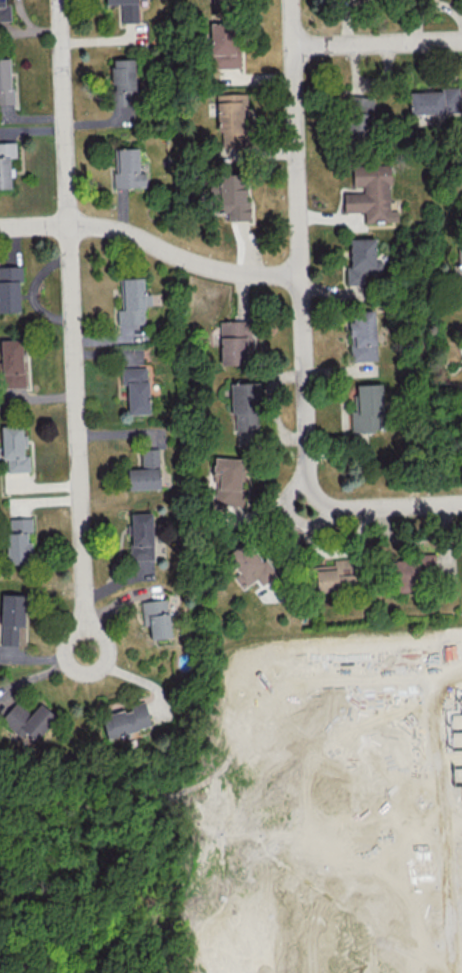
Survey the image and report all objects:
building: (126, 9)
building: (4, 10)
road: (378, 42)
building: (223, 44)
building: (122, 74)
building: (5, 81)
building: (434, 101)
building: (359, 104)
building: (232, 120)
building: (6, 161)
building: (128, 169)
building: (371, 194)
building: (233, 197)
road: (151, 243)
building: (361, 260)
building: (460, 274)
building: (10, 288)
road: (304, 322)
road: (72, 325)
building: (362, 336)
building: (234, 342)
building: (11, 363)
building: (136, 389)
building: (244, 405)
building: (368, 408)
building: (14, 448)
building: (145, 471)
building: (227, 480)
road: (298, 517)
building: (141, 536)
building: (18, 540)
building: (247, 564)
building: (410, 571)
building: (335, 575)
building: (155, 617)
building: (11, 619)
building: (27, 719)
building: (126, 719)

